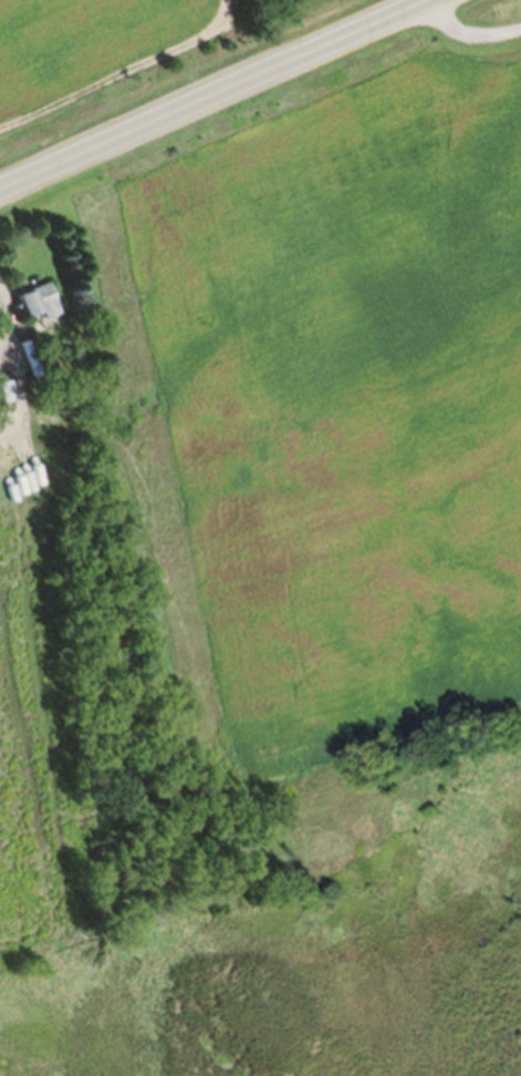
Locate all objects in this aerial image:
road: (467, 35)
road: (213, 94)
building: (35, 310)
building: (6, 400)

